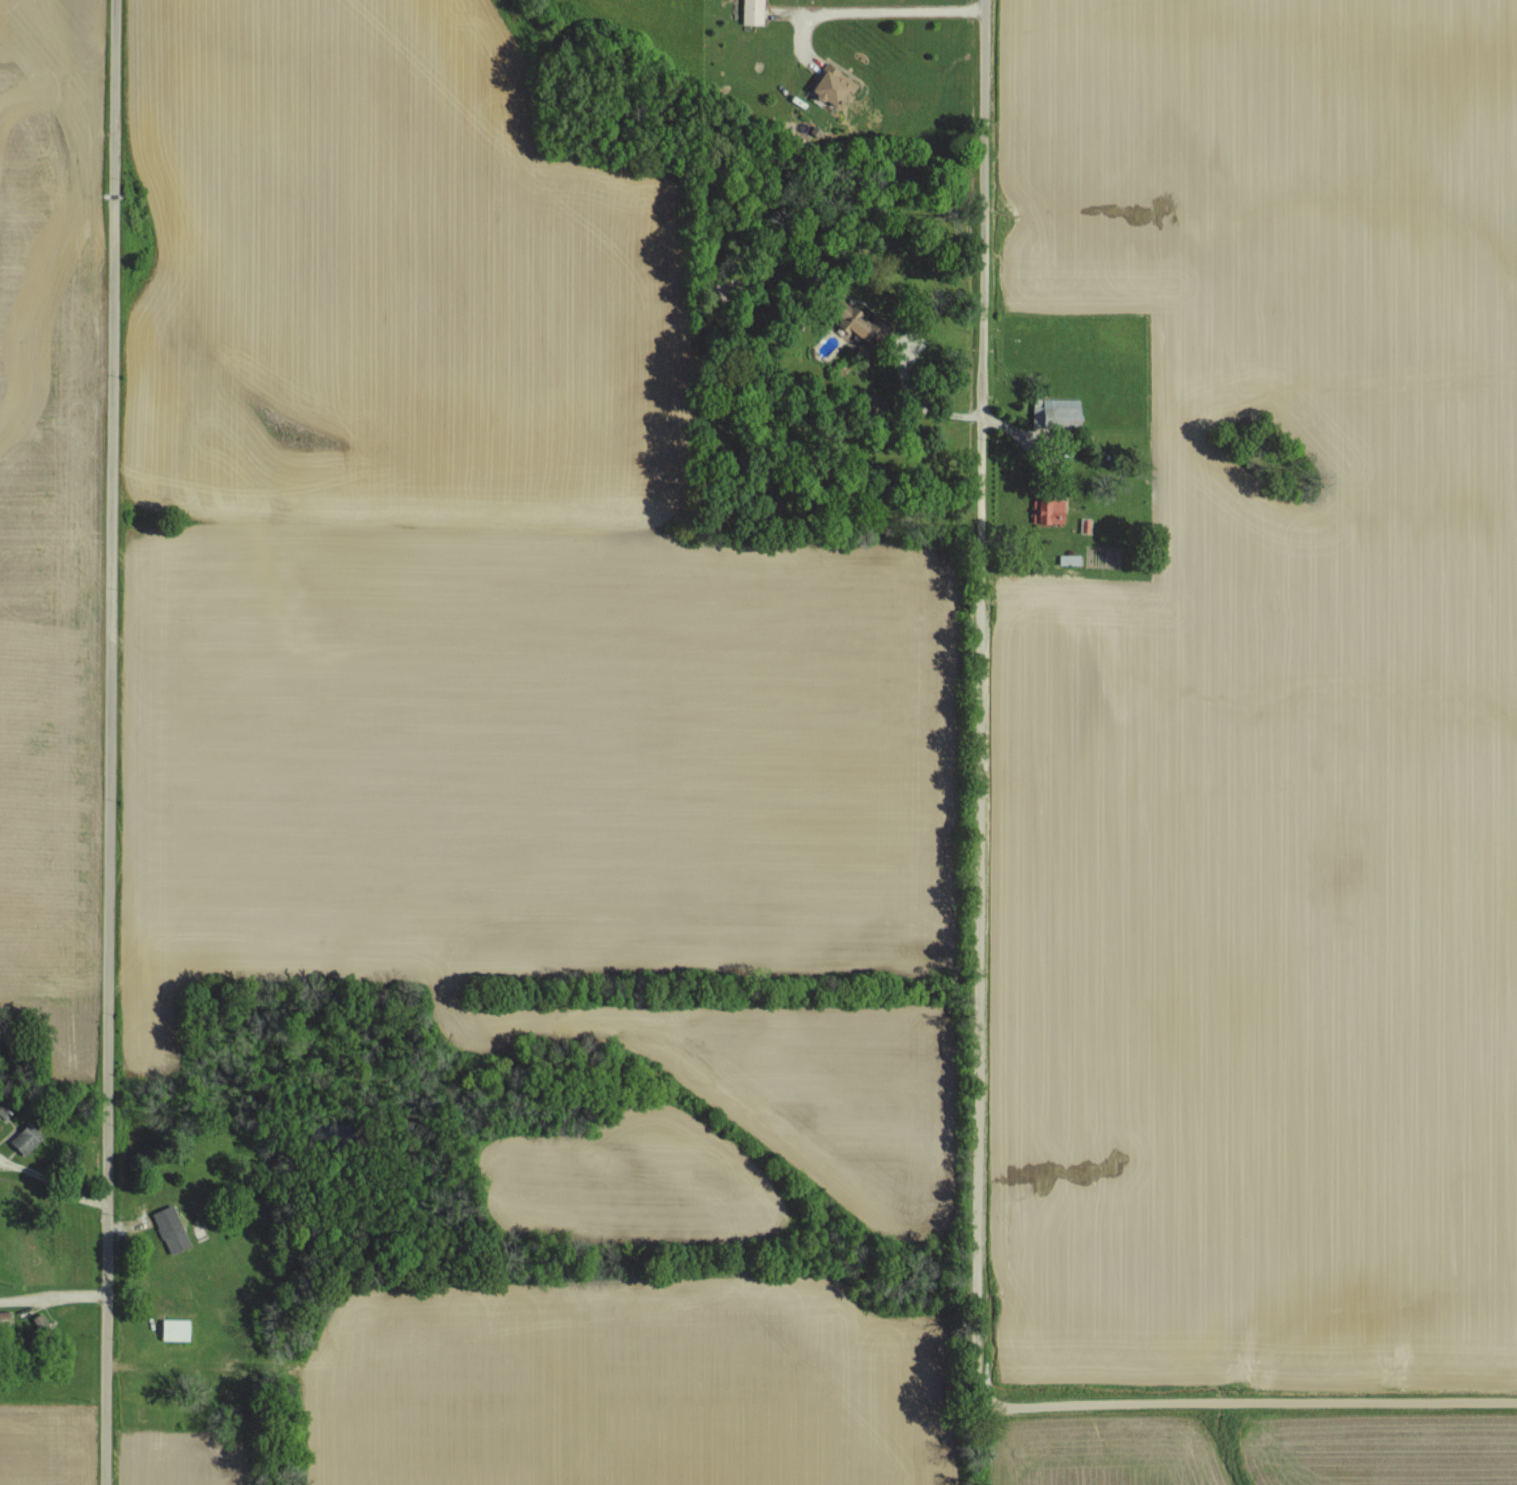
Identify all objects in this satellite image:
road: (880, 8)
building: (755, 11)
building: (837, 86)
building: (871, 324)
road: (970, 711)
road: (105, 742)
building: (28, 1138)
building: (172, 1228)
road: (52, 1296)
building: (177, 1328)
road: (1245, 1418)

